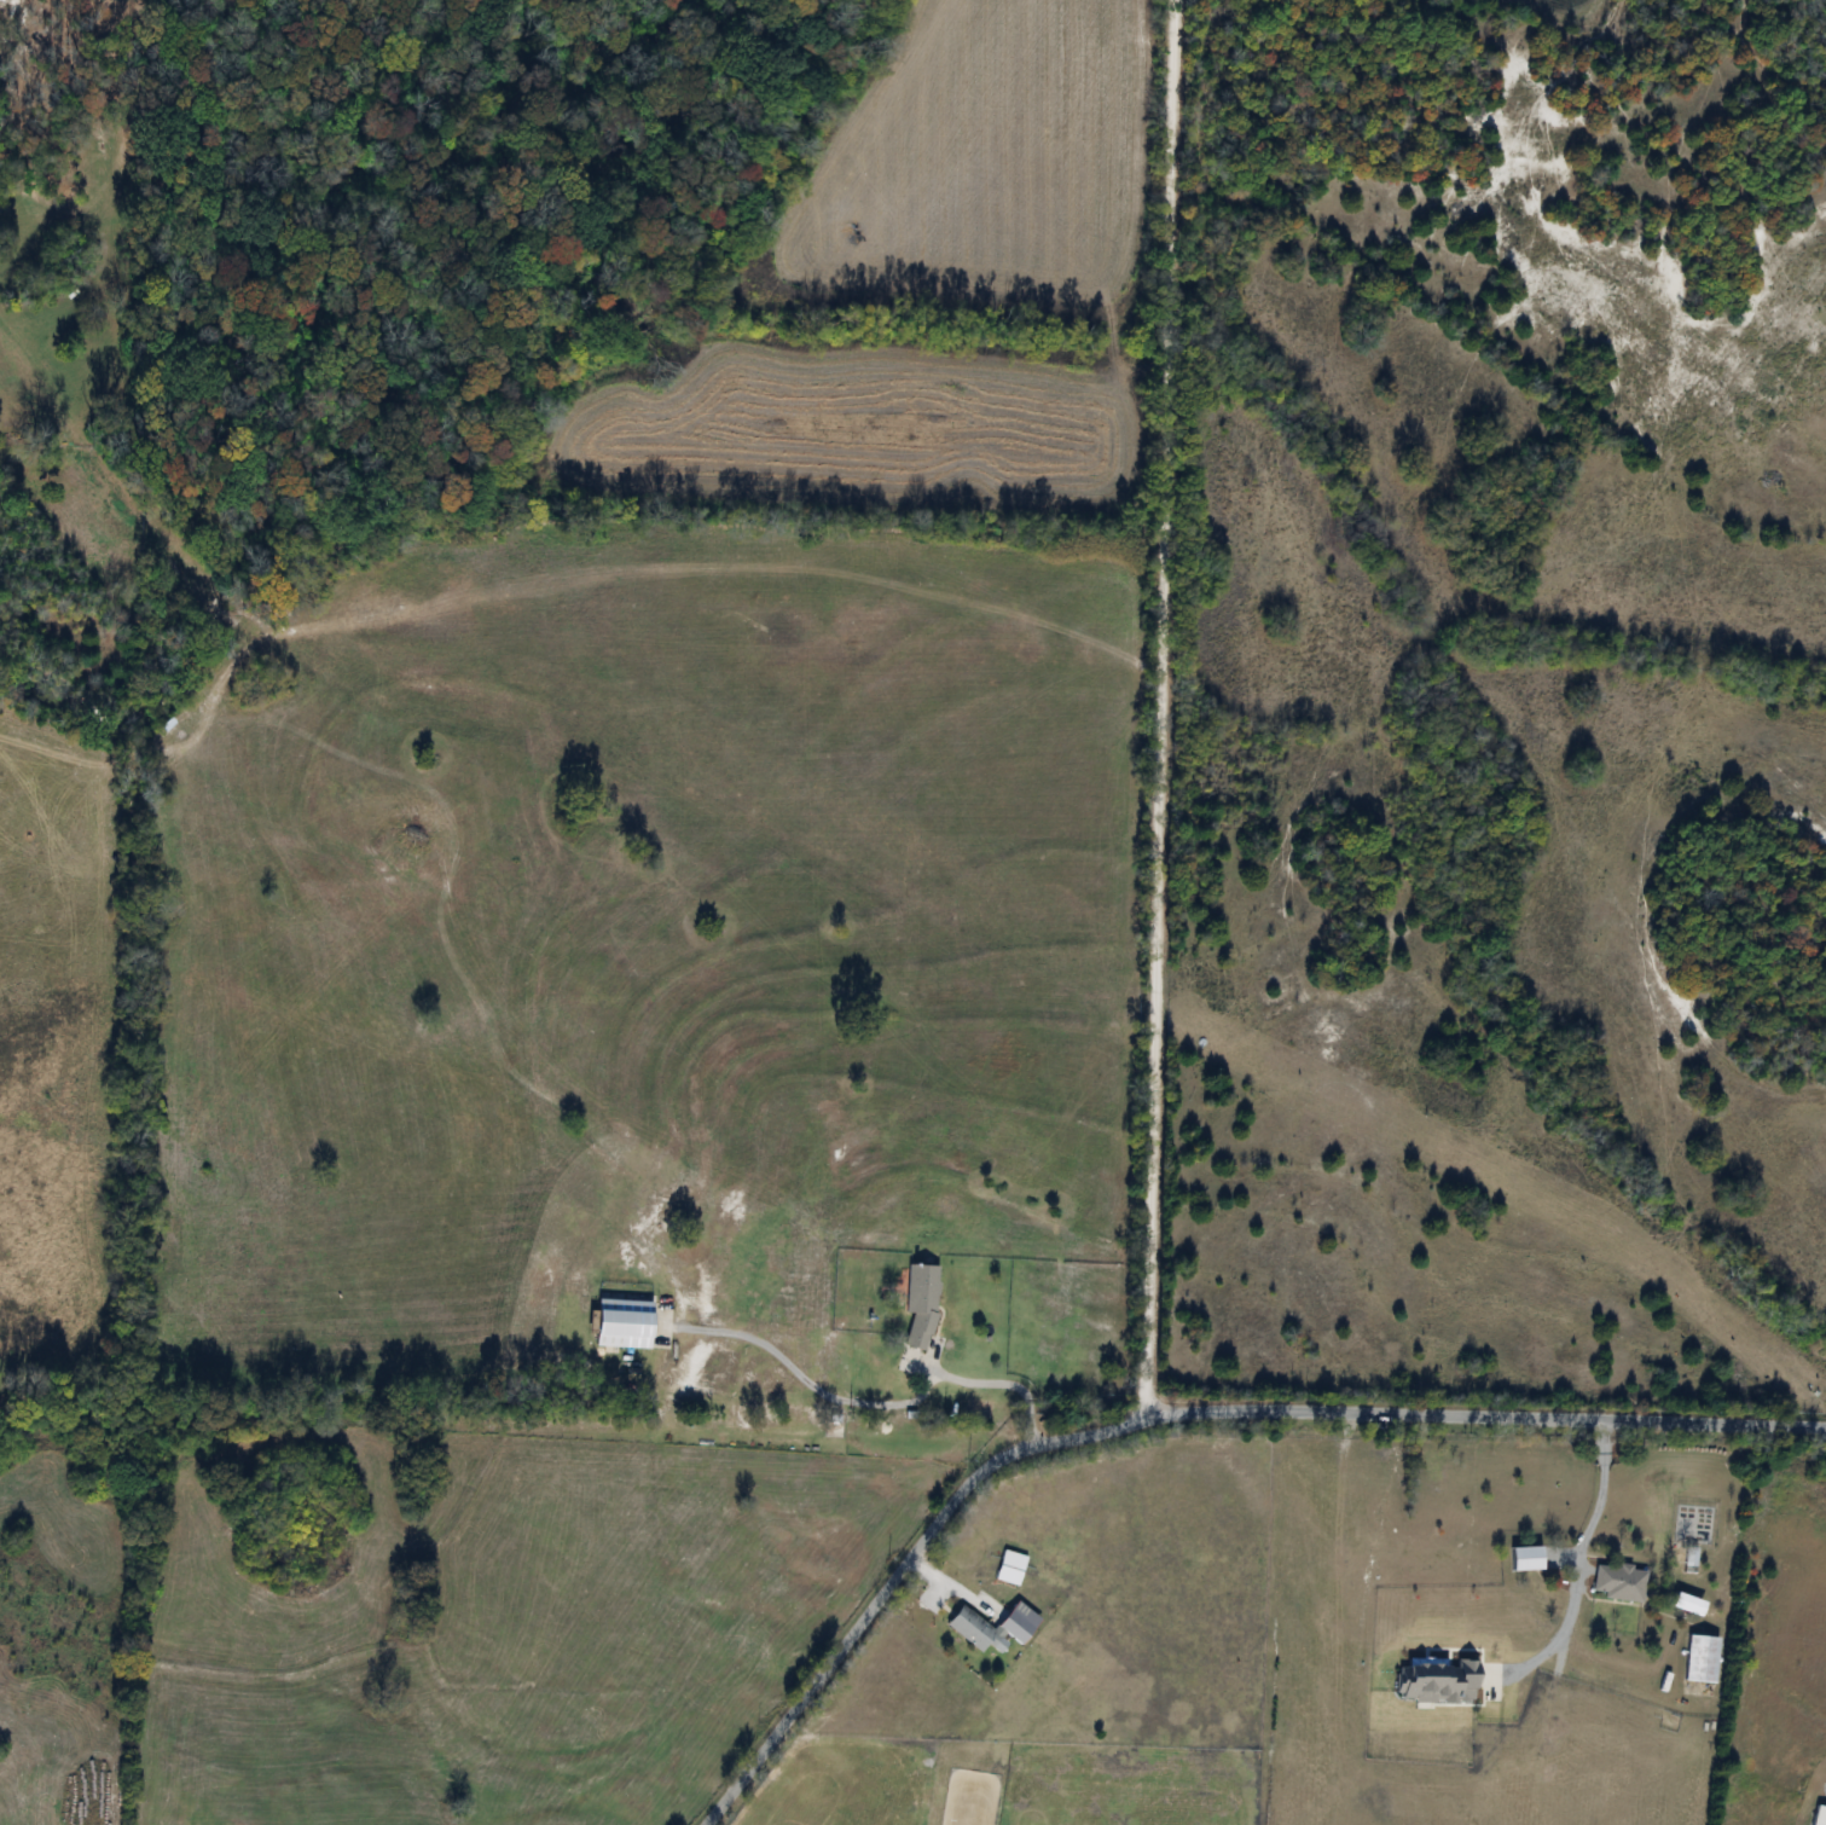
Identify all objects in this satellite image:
road: (1157, 709)
building: (643, 1246)
building: (920, 1305)
road: (1001, 1384)
road: (1485, 1415)
building: (1525, 1559)
building: (1009, 1568)
road: (1577, 1571)
road: (895, 1577)
building: (1618, 1583)
building: (1014, 1627)
building: (972, 1630)
building: (1700, 1659)
building: (1819, 1817)

